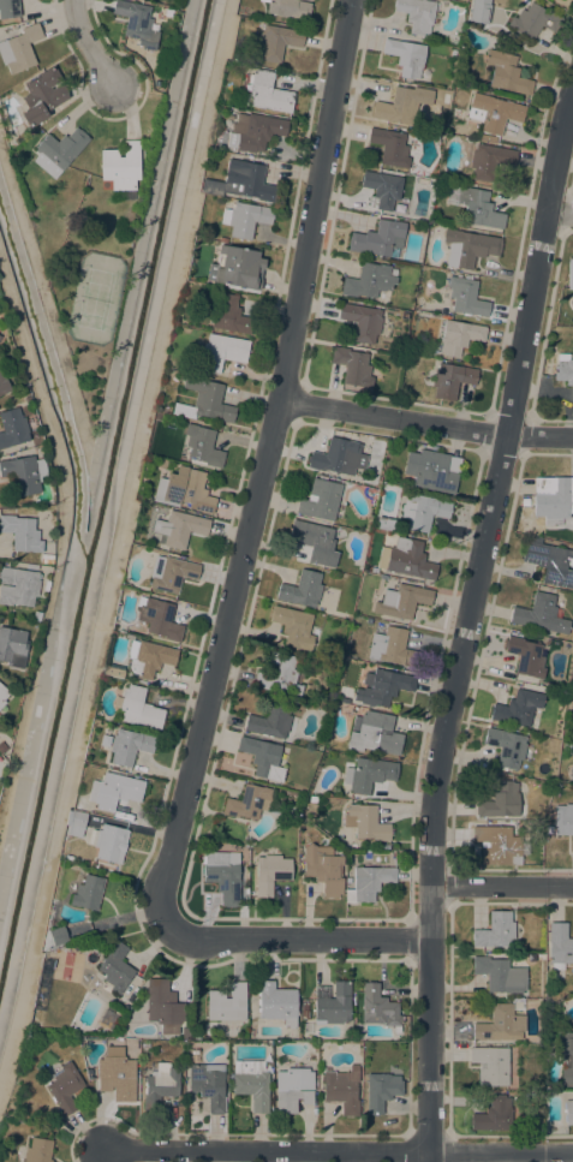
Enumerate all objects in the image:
building: (8, 8)
building: (288, 8)
building: (500, 13)
building: (417, 14)
building: (135, 19)
building: (533, 22)
road: (85, 42)
building: (276, 42)
building: (19, 49)
building: (405, 56)
building: (506, 73)
building: (268, 93)
building: (41, 96)
building: (446, 99)
building: (402, 105)
building: (494, 113)
building: (227, 114)
building: (253, 132)
building: (488, 137)
building: (390, 147)
building: (60, 148)
building: (489, 161)
building: (120, 167)
building: (240, 181)
building: (382, 187)
building: (476, 207)
road: (559, 214)
building: (244, 219)
building: (378, 238)
building: (468, 248)
building: (238, 268)
building: (569, 274)
building: (368, 281)
building: (466, 297)
road: (43, 300)
park: (96, 300)
building: (228, 314)
building: (362, 321)
building: (459, 336)
building: (221, 351)
building: (352, 367)
building: (563, 370)
building: (450, 380)
building: (4, 385)
building: (26, 399)
building: (203, 401)
road: (425, 423)
building: (12, 428)
building: (202, 446)
building: (338, 457)
building: (160, 464)
road: (262, 469)
building: (435, 471)
building: (23, 475)
building: (184, 489)
building: (553, 499)
building: (320, 500)
building: (525, 502)
building: (422, 511)
building: (386, 524)
building: (518, 526)
building: (178, 529)
building: (20, 534)
road: (59, 543)
road: (119, 544)
building: (315, 544)
building: (44, 559)
building: (406, 559)
building: (550, 562)
building: (171, 573)
building: (44, 585)
building: (18, 586)
building: (302, 589)
building: (401, 601)
building: (539, 614)
building: (35, 616)
building: (157, 618)
road: (466, 619)
building: (293, 627)
building: (127, 637)
building: (12, 646)
building: (392, 648)
building: (148, 657)
building: (526, 657)
building: (112, 671)
building: (280, 675)
building: (382, 687)
building: (2, 695)
building: (137, 708)
building: (518, 708)
building: (270, 722)
building: (374, 734)
building: (127, 746)
building: (1, 747)
building: (506, 747)
building: (262, 757)
building: (368, 774)
building: (571, 774)
building: (114, 791)
building: (501, 802)
building: (247, 803)
building: (562, 820)
building: (365, 822)
building: (76, 823)
building: (108, 841)
building: (501, 846)
building: (67, 859)
building: (323, 868)
building: (269, 872)
building: (222, 876)
building: (370, 883)
road: (501, 886)
building: (86, 893)
building: (495, 930)
building: (58, 936)
road: (299, 940)
building: (560, 946)
building: (115, 967)
building: (500, 975)
building: (333, 1002)
building: (226, 1003)
building: (276, 1003)
building: (163, 1006)
building: (378, 1007)
building: (304, 1012)
building: (501, 1023)
building: (186, 1032)
building: (566, 1057)
building: (490, 1065)
building: (117, 1075)
building: (251, 1083)
building: (160, 1085)
building: (208, 1085)
building: (64, 1087)
building: (292, 1089)
building: (341, 1089)
building: (381, 1091)
building: (568, 1112)
building: (494, 1115)
building: (37, 1150)
road: (339, 1151)

